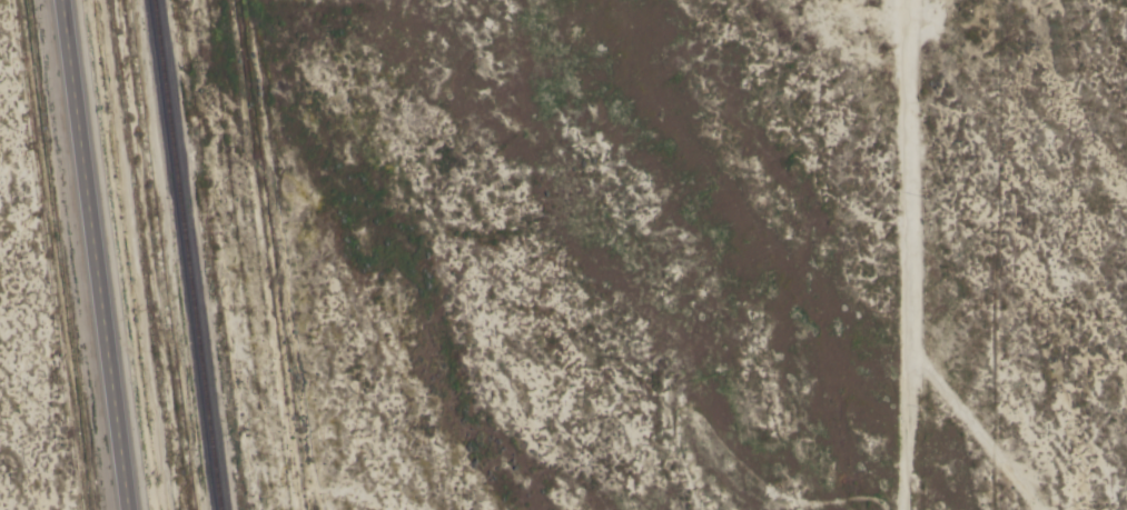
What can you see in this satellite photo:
road: (98, 254)
railway: (185, 254)
road: (271, 254)
road: (904, 254)

